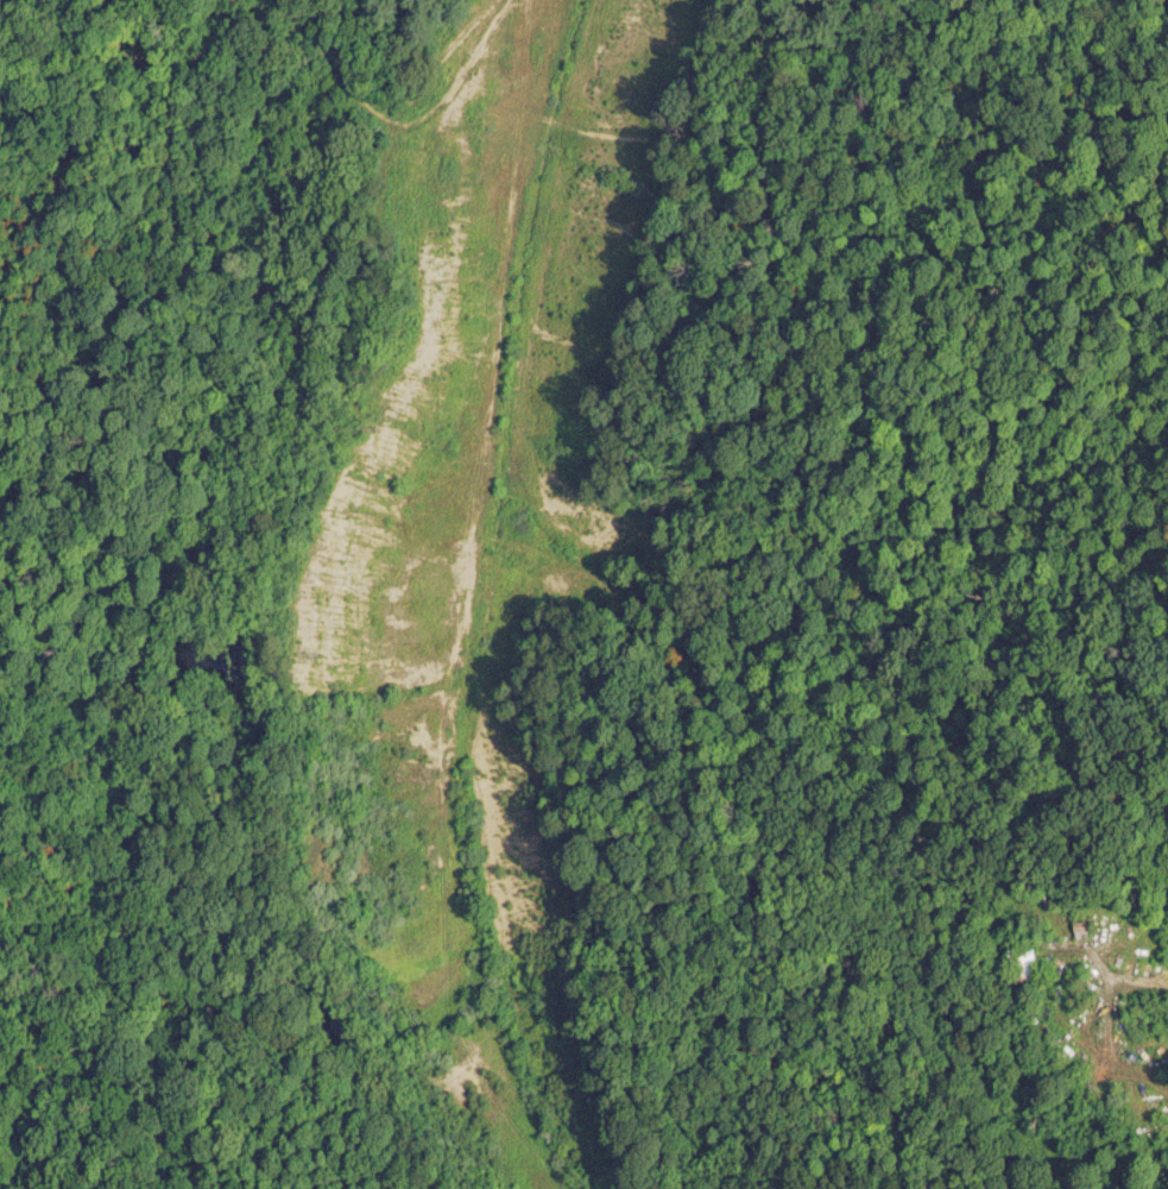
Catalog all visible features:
building: (1082, 926)
building: (1023, 961)

